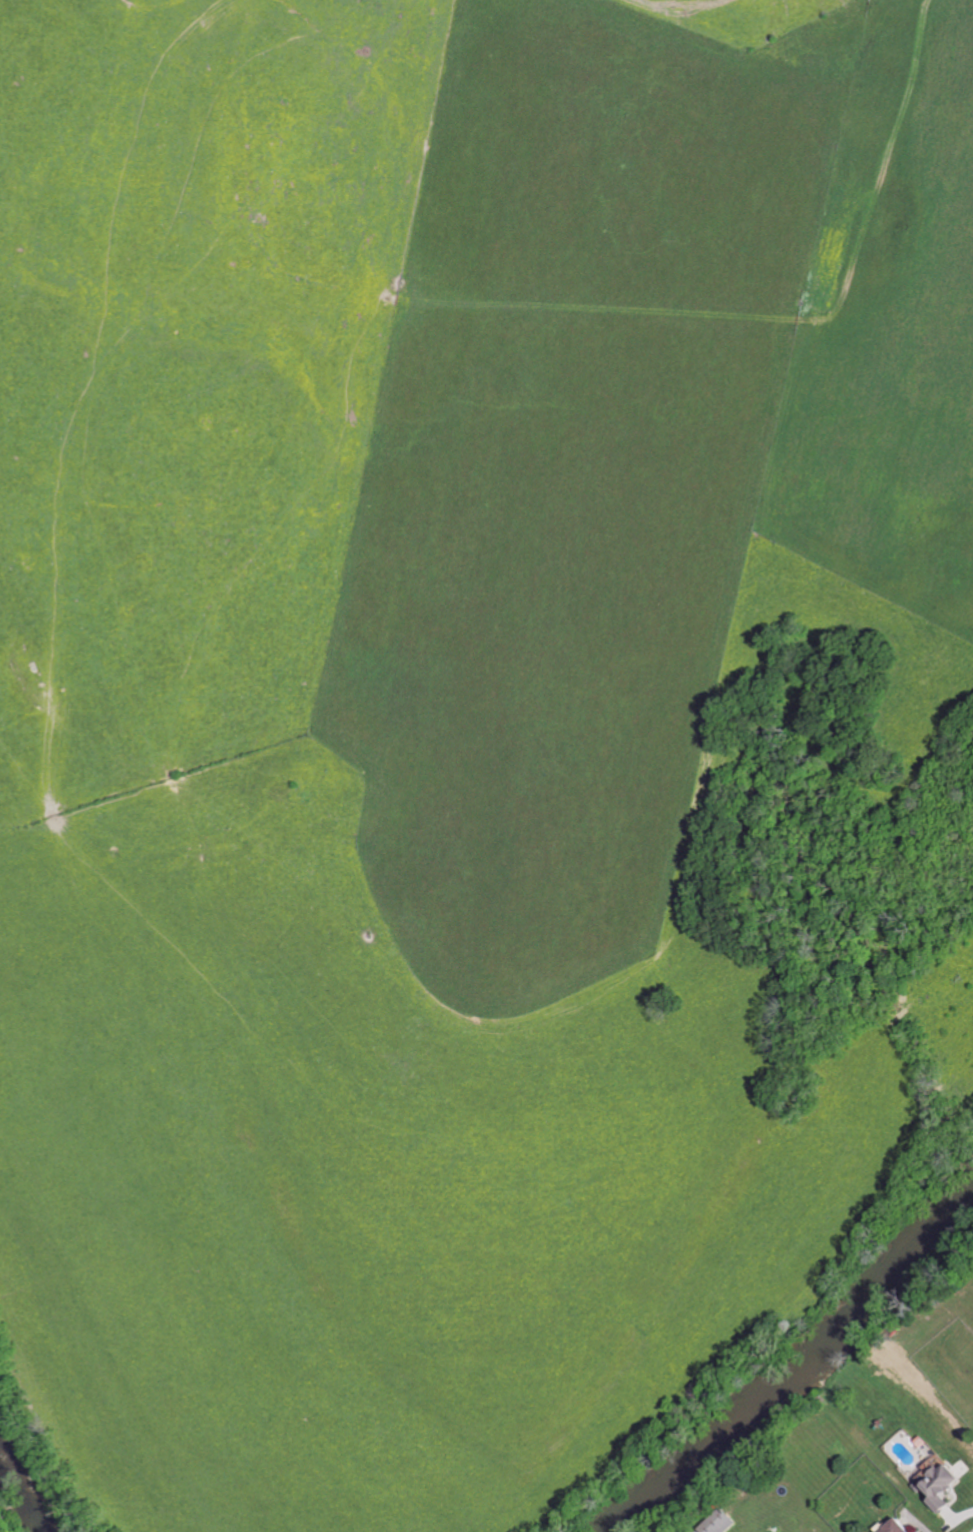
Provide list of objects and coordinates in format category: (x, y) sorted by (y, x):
building: (946, 1486)
building: (902, 1527)

